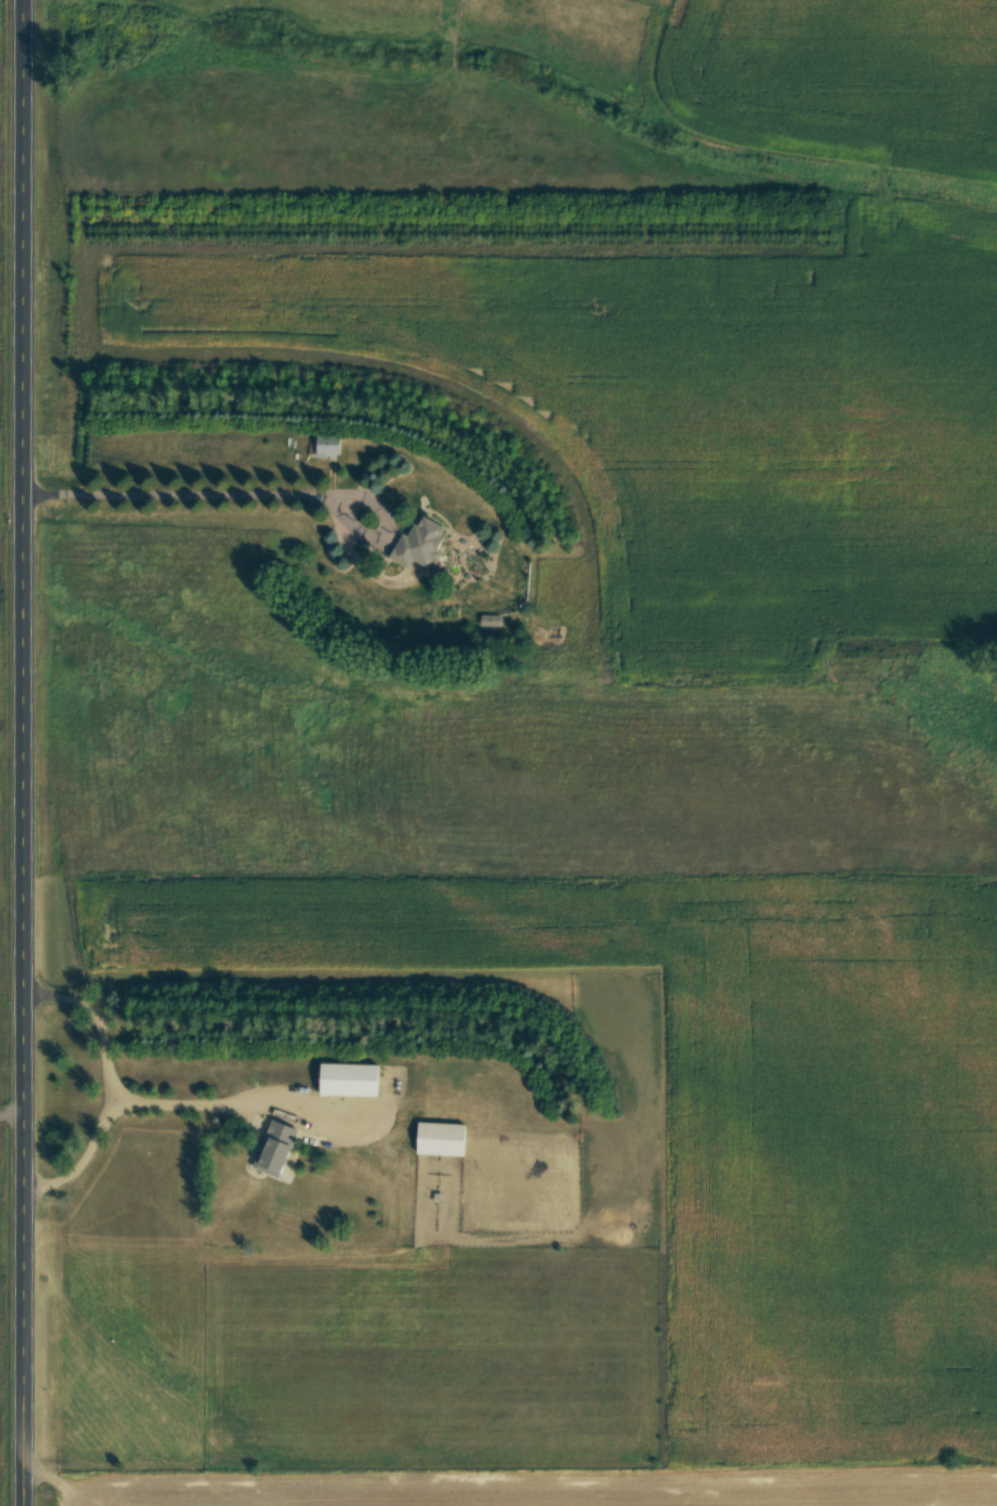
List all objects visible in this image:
road: (257, 483)
building: (423, 543)
building: (492, 620)
road: (31, 753)
road: (104, 1074)
building: (350, 1079)
road: (216, 1093)
building: (442, 1138)
building: (279, 1147)

